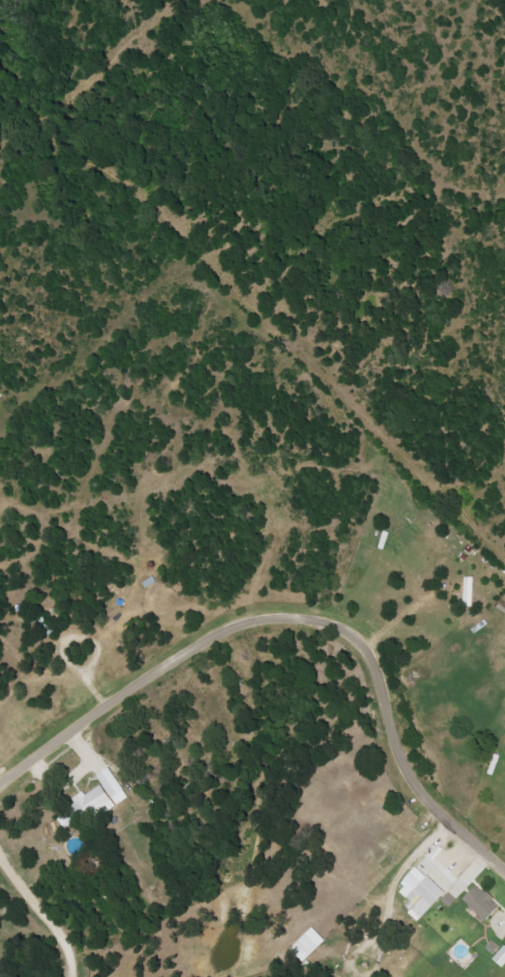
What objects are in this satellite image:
building: (469, 590)
road: (395, 617)
road: (299, 618)
building: (99, 797)
building: (66, 819)
building: (421, 893)
building: (482, 902)
road: (42, 917)
building: (308, 944)

